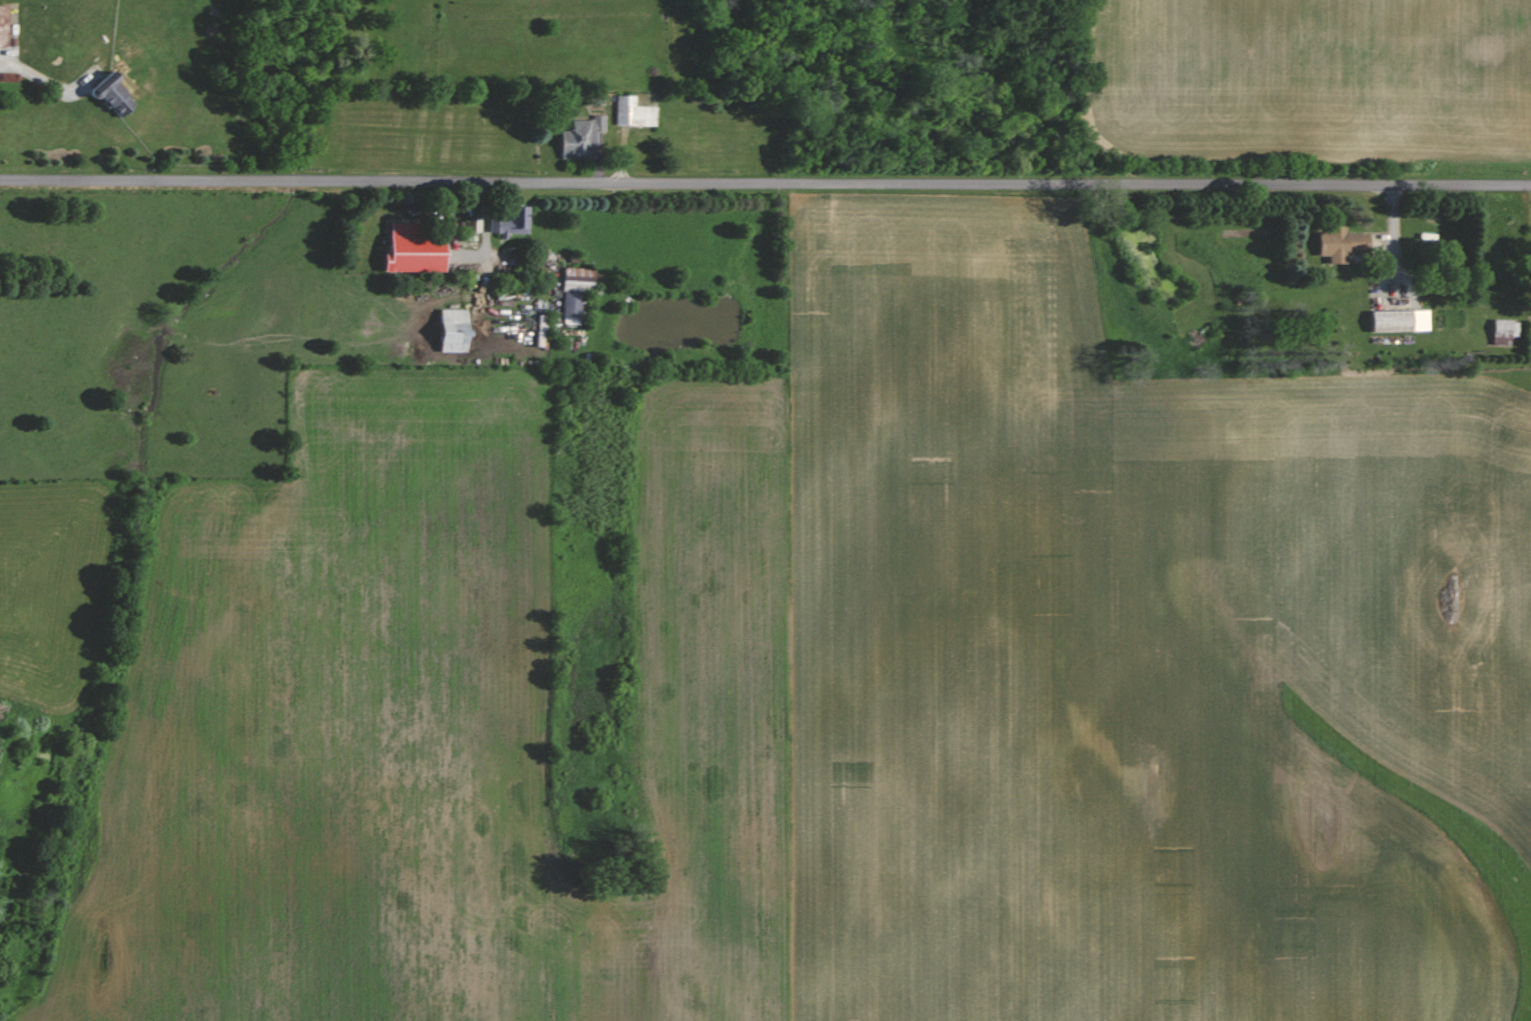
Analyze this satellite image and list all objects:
building: (1, 26)
road: (44, 81)
building: (106, 94)
building: (631, 113)
building: (577, 138)
road: (765, 183)
building: (509, 223)
building: (473, 225)
building: (1337, 244)
building: (408, 254)
building: (572, 290)
building: (1396, 321)
building: (1502, 328)
building: (447, 331)

